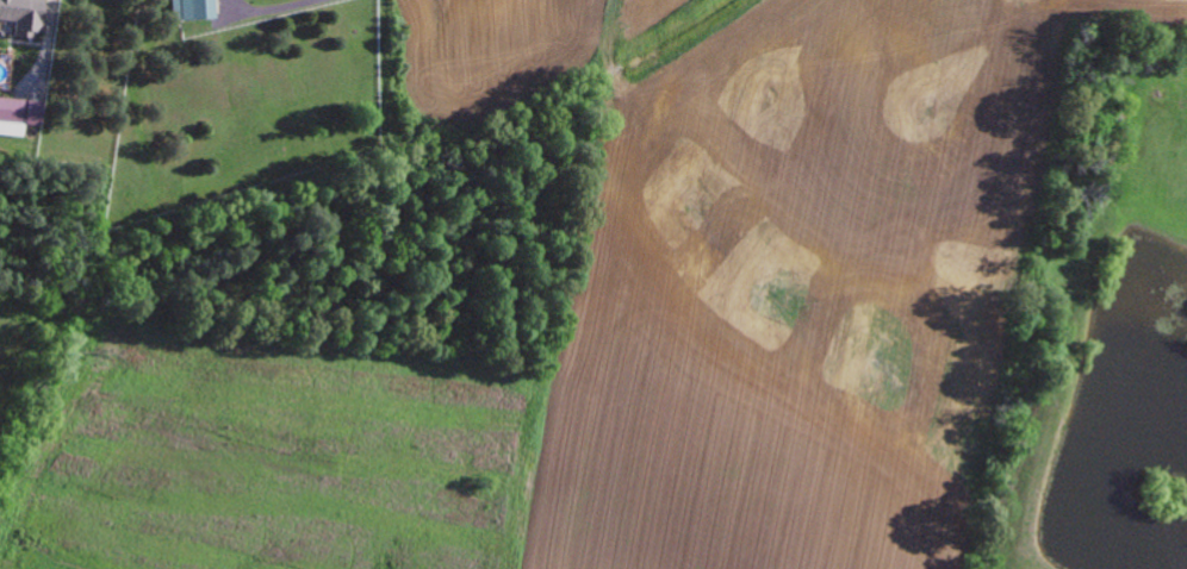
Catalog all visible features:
building: (193, 8)
building: (23, 15)
building: (19, 111)

